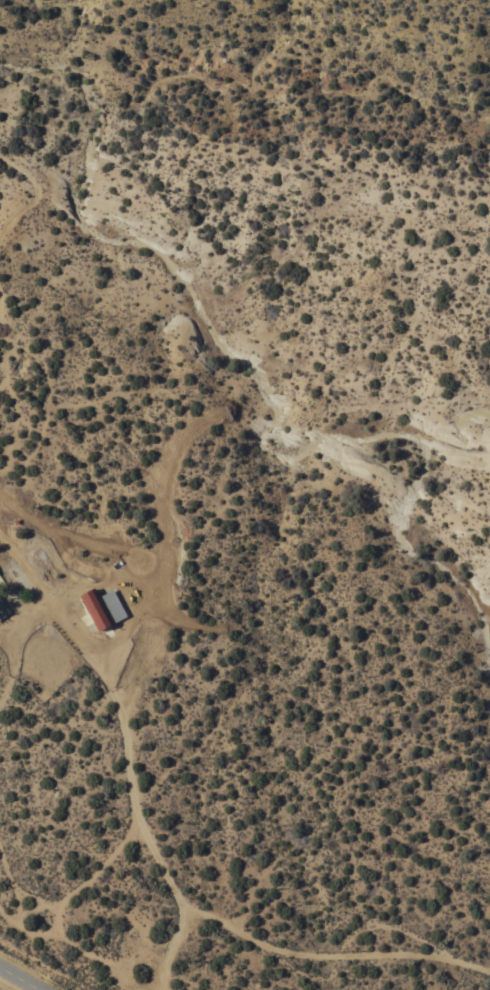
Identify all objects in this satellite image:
building: (0, 581)
building: (102, 607)
building: (3, 609)
road: (131, 745)
road: (23, 976)

